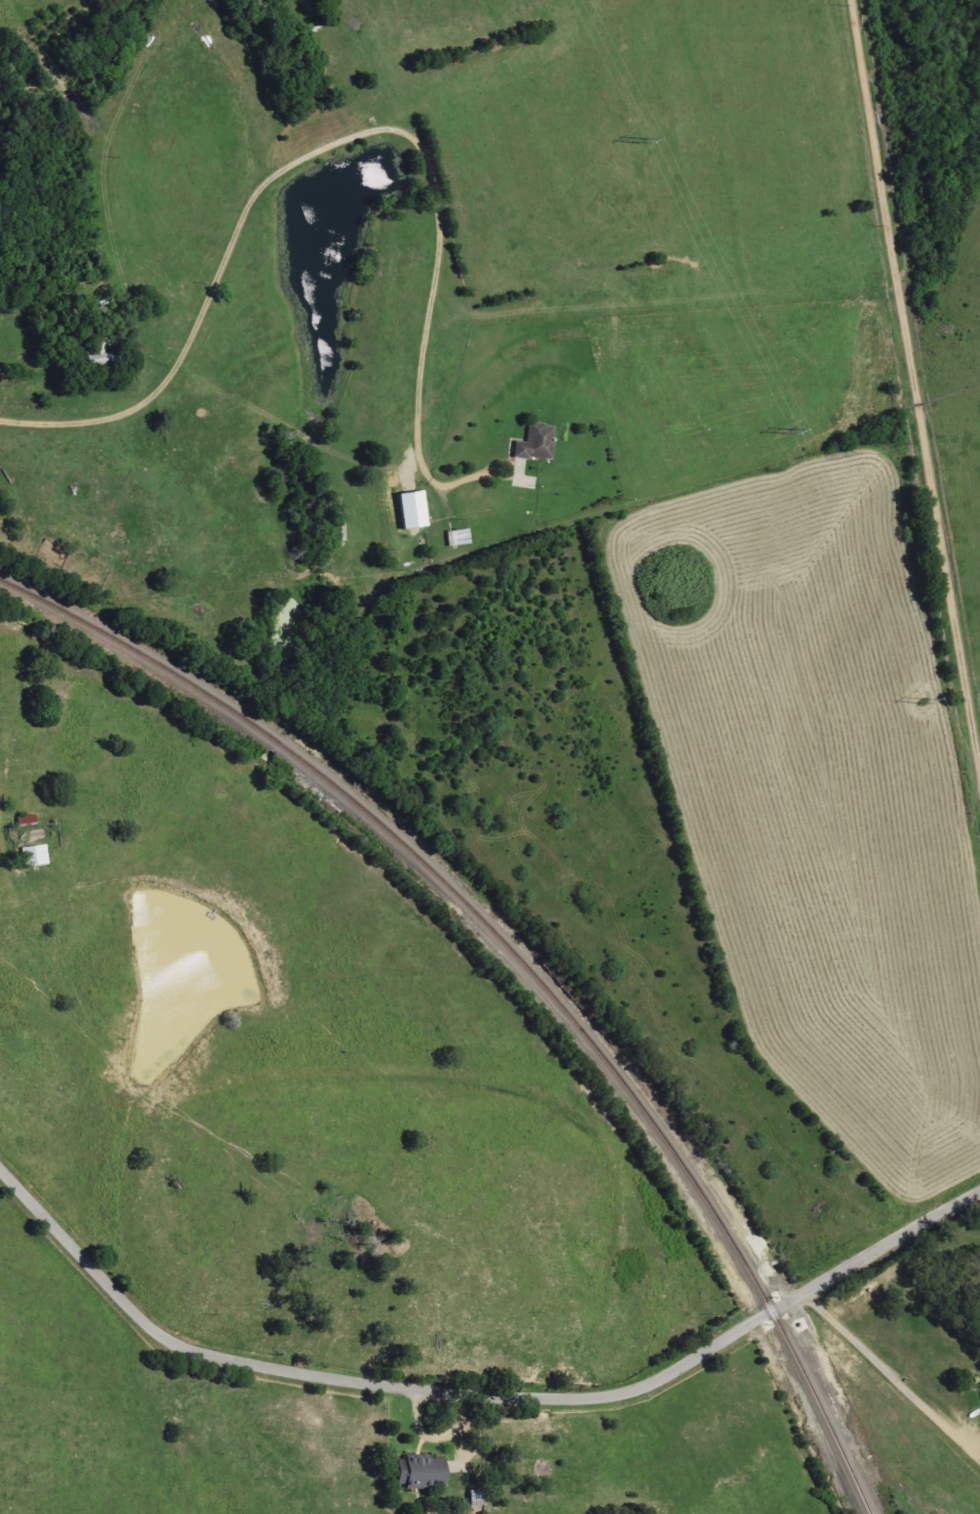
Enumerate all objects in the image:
road: (321, 140)
power tower: (641, 140)
road: (913, 393)
power tower: (788, 431)
building: (539, 443)
power tower: (922, 700)
building: (36, 856)
railway: (523, 963)
road: (889, 1379)
road: (477, 1398)
building: (424, 1473)

